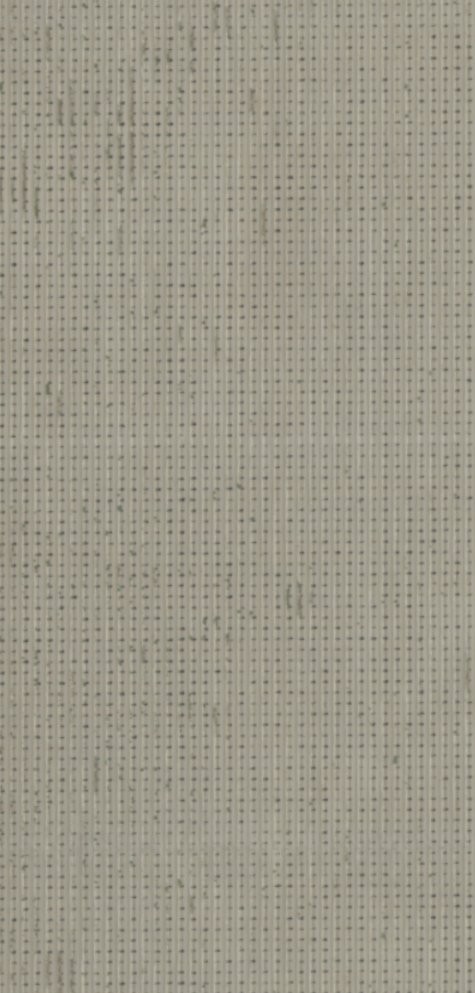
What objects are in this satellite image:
road: (237, 445)
crop: (237, 496)

